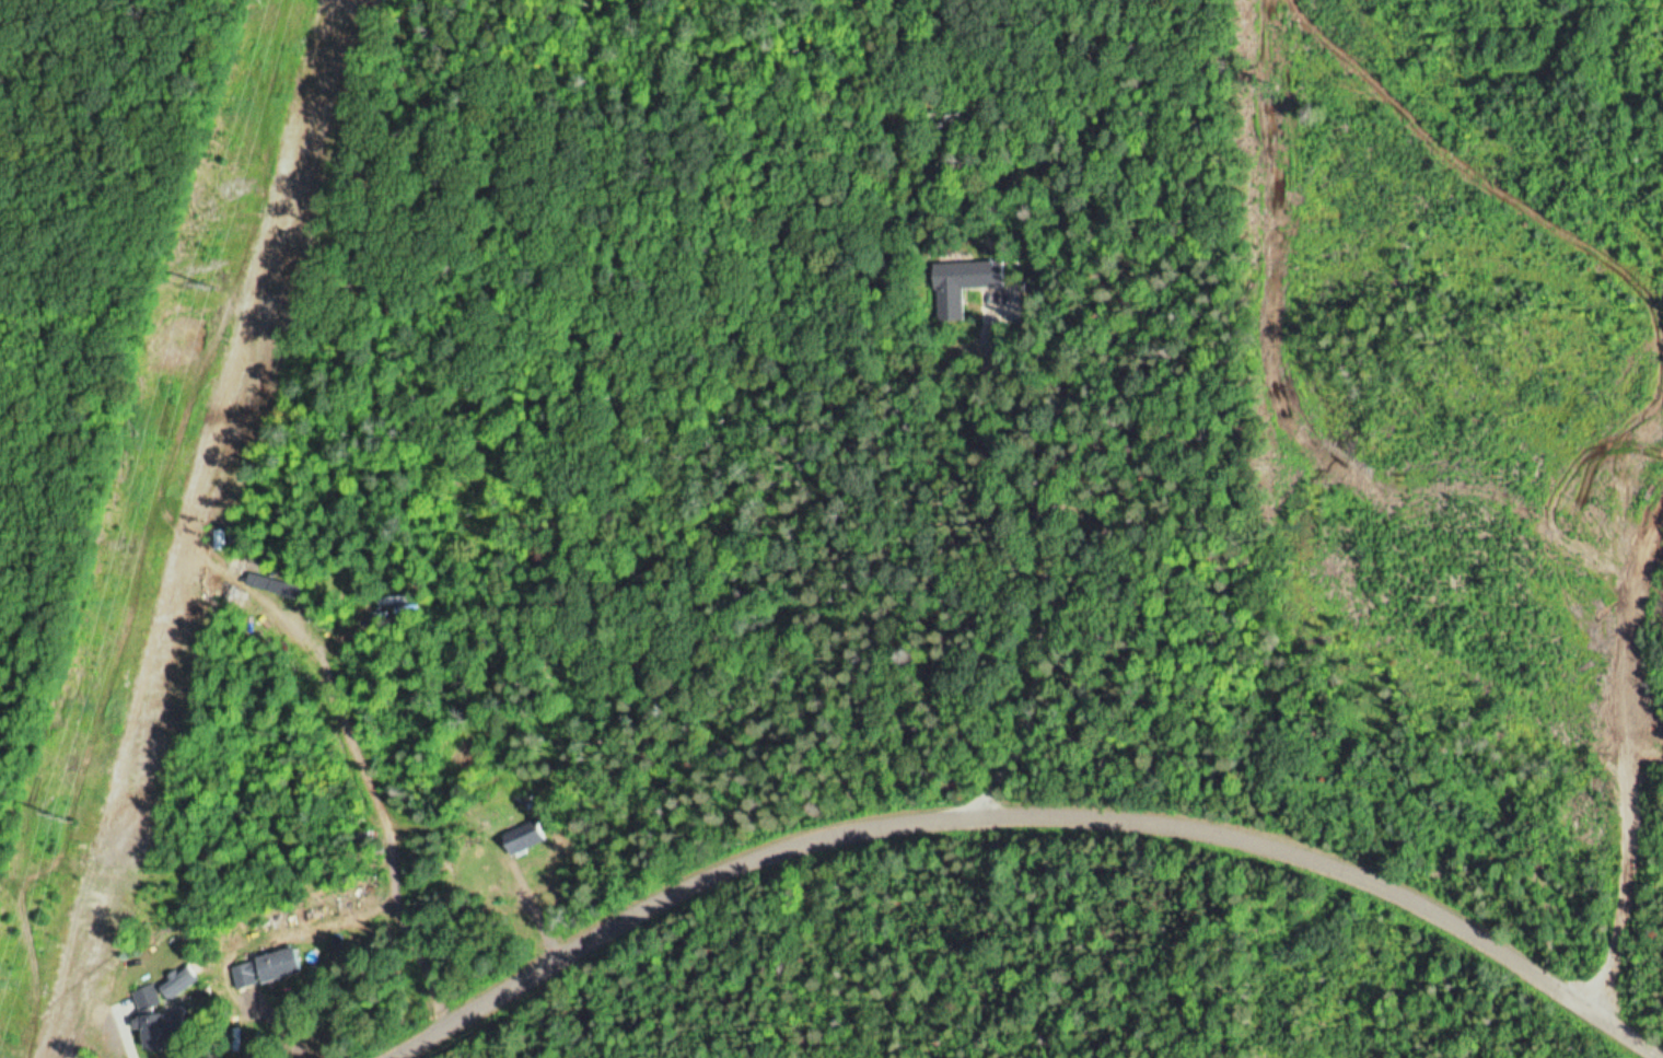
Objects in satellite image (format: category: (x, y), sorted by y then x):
building: (964, 276)
road: (938, 415)
road: (1620, 751)
road: (1038, 817)
building: (525, 835)
building: (421, 966)
building: (264, 968)
building: (176, 979)
building: (146, 998)
building: (163, 1030)

